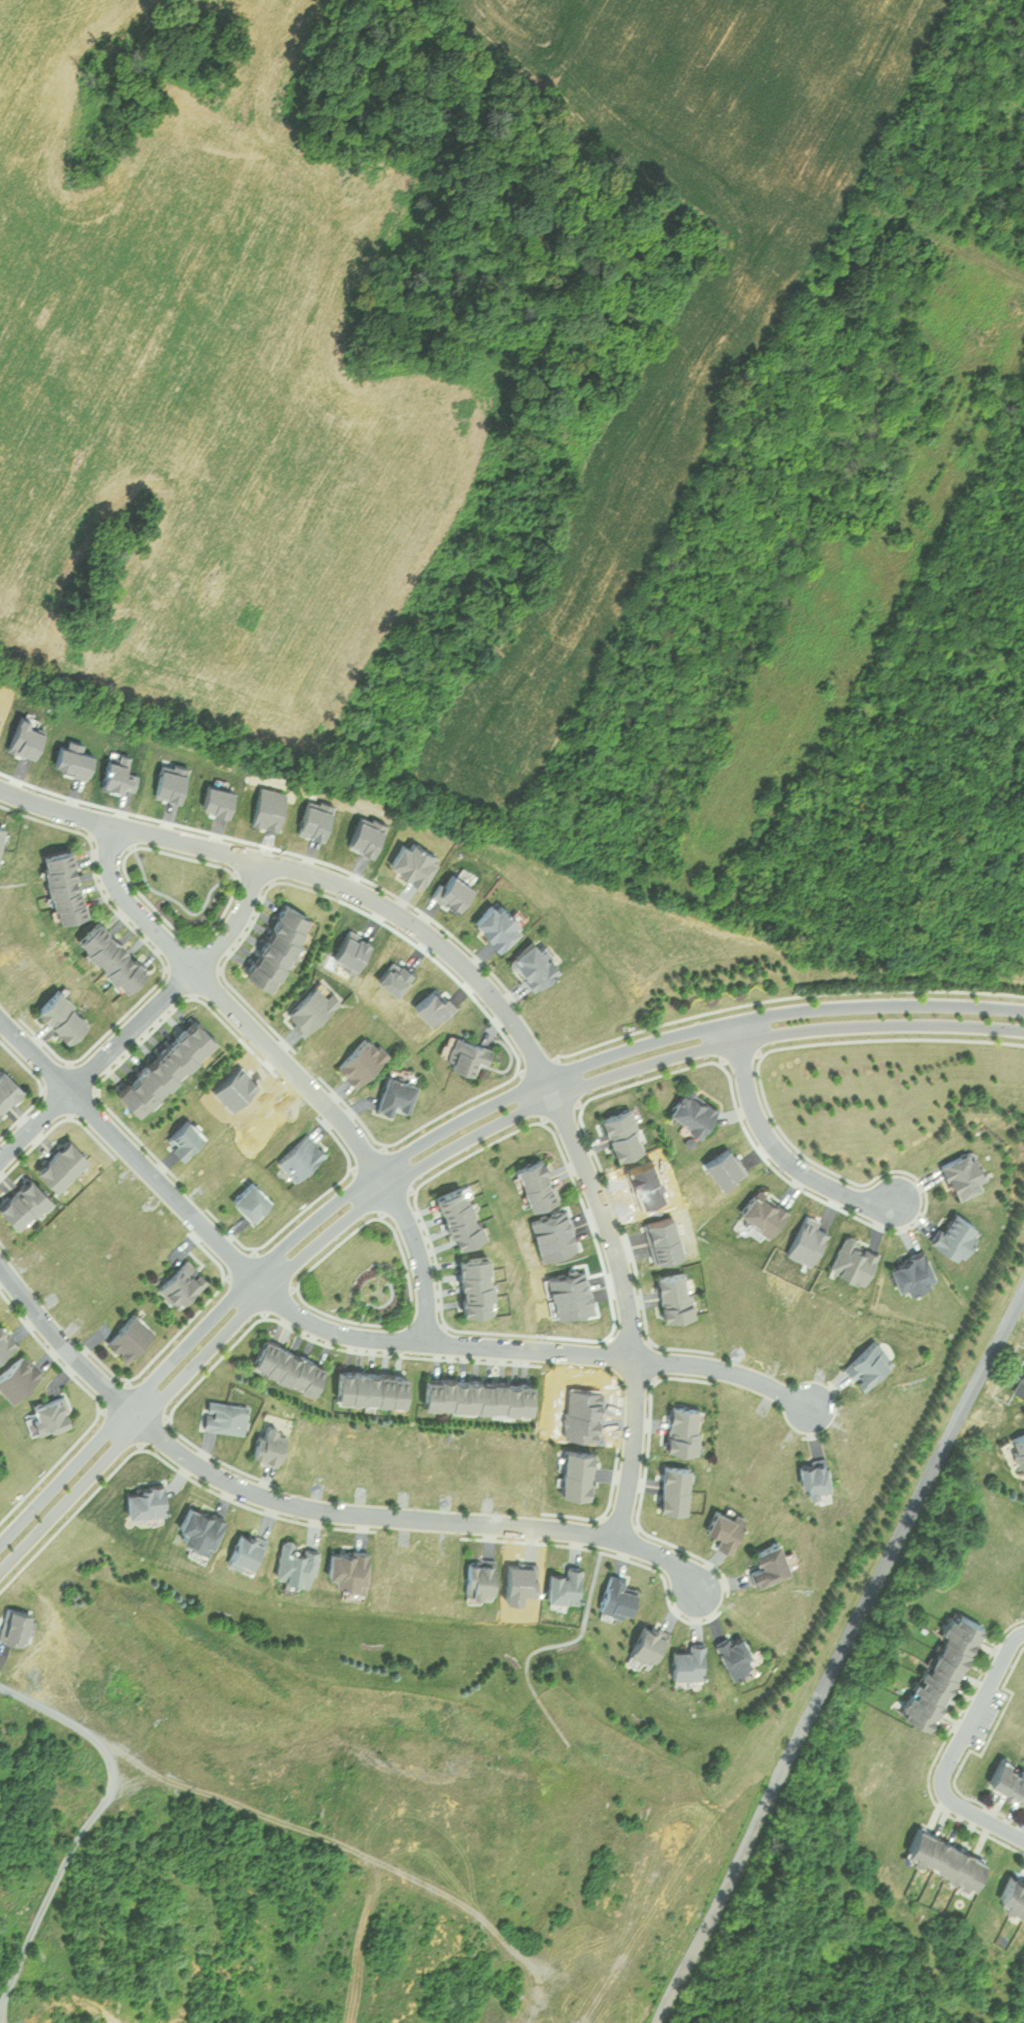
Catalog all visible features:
building: (0, 830)
building: (409, 860)
road: (314, 873)
building: (59, 883)
building: (492, 923)
building: (274, 944)
building: (107, 955)
building: (529, 961)
building: (310, 1005)
road: (229, 1007)
building: (59, 1016)
road: (143, 1017)
building: (466, 1054)
building: (360, 1058)
building: (161, 1064)
building: (6, 1089)
building: (394, 1094)
building: (690, 1110)
road: (441, 1129)
building: (620, 1133)
building: (181, 1136)
road: (776, 1145)
road: (129, 1149)
road: (440, 1153)
building: (299, 1155)
building: (59, 1164)
building: (961, 1175)
building: (533, 1183)
building: (248, 1199)
building: (21, 1202)
building: (761, 1211)
building: (456, 1216)
building: (953, 1236)
road: (420, 1254)
building: (854, 1261)
building: (910, 1275)
building: (179, 1280)
building: (472, 1285)
building: (672, 1295)
road: (628, 1305)
building: (127, 1335)
building: (5, 1339)
road: (62, 1341)
road: (532, 1348)
building: (866, 1365)
building: (285, 1366)
building: (16, 1375)
building: (1020, 1385)
building: (369, 1388)
building: (476, 1395)
building: (46, 1413)
building: (224, 1416)
building: (680, 1425)
building: (269, 1444)
building: (1018, 1450)
building: (575, 1472)
building: (815, 1476)
building: (673, 1485)
building: (142, 1497)
road: (412, 1516)
building: (724, 1525)
building: (197, 1526)
building: (243, 1549)
building: (294, 1561)
building: (767, 1562)
building: (346, 1566)
building: (477, 1574)
building: (563, 1581)
building: (614, 1593)
building: (646, 1642)
building: (733, 1653)
road: (838, 1653)
building: (687, 1660)
building: (937, 1665)
road: (956, 1748)
building: (1007, 1778)
road: (258, 1812)
building: (941, 1854)
building: (1011, 1894)

